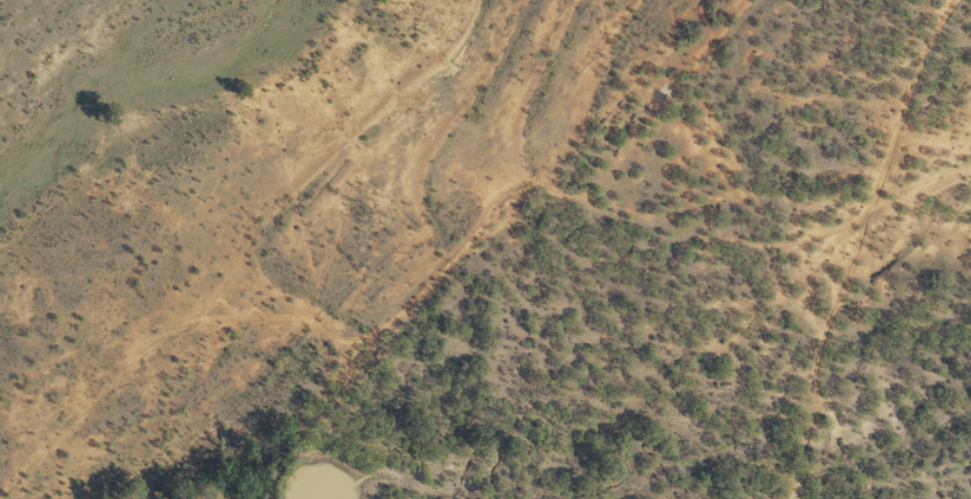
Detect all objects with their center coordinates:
road: (660, 243)

